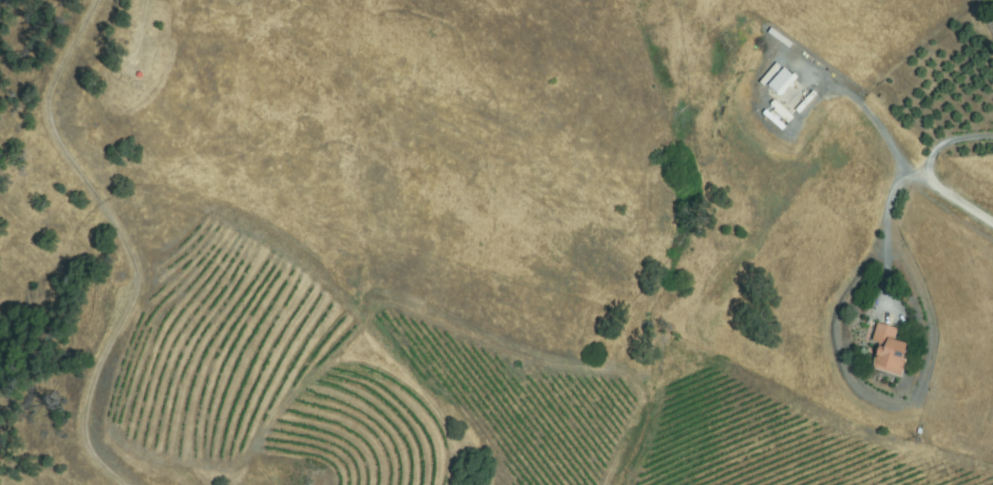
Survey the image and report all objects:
building: (781, 82)
building: (888, 350)

